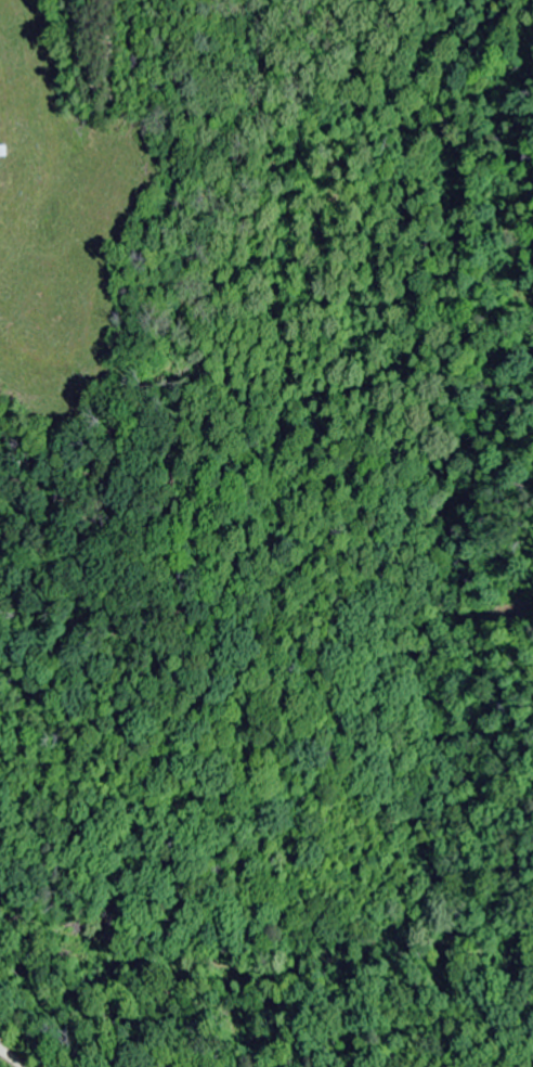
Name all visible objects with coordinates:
road: (17, 1054)

